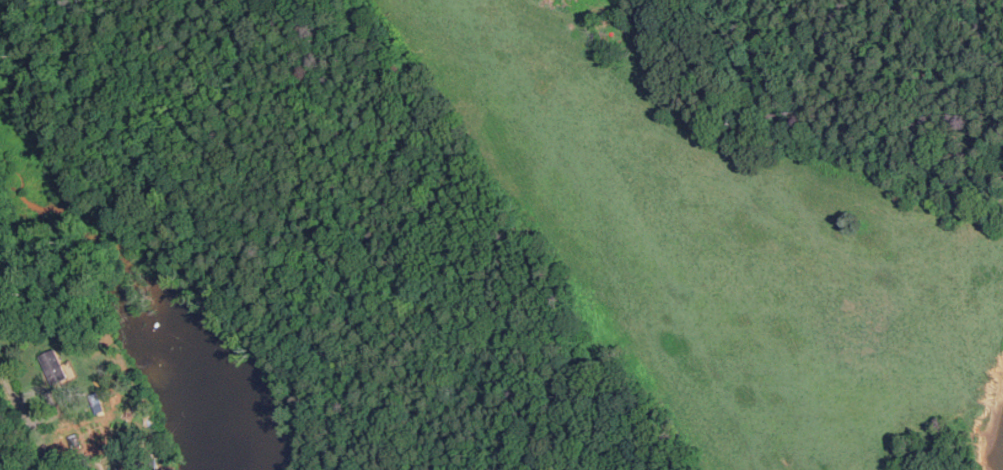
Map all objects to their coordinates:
building: (55, 367)
road: (33, 432)

